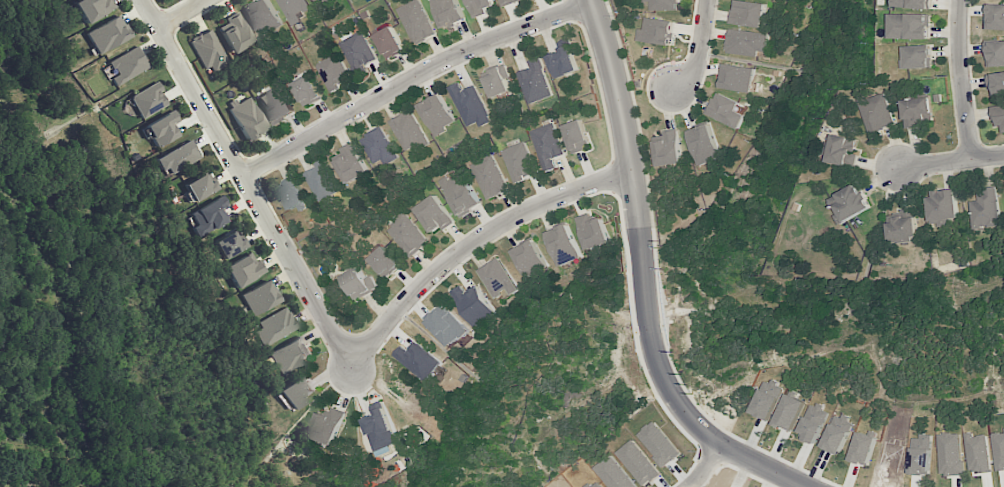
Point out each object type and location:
building: (320, 2)
building: (508, 2)
building: (912, 4)
building: (662, 5)
building: (480, 6)
building: (93, 8)
building: (294, 9)
building: (447, 12)
road: (180, 13)
building: (748, 14)
building: (263, 16)
building: (995, 17)
building: (416, 22)
building: (909, 26)
building: (657, 31)
building: (236, 33)
building: (107, 34)
building: (389, 42)
building: (746, 42)
road: (698, 48)
building: (208, 49)
building: (358, 53)
building: (995, 54)
building: (918, 57)
building: (563, 60)
building: (127, 65)
building: (334, 72)
building: (737, 77)
road: (411, 78)
road: (964, 80)
building: (496, 81)
building: (535, 82)
building: (997, 83)
building: (307, 90)
building: (148, 100)
building: (276, 104)
building: (470, 105)
building: (724, 110)
building: (916, 110)
building: (436, 114)
building: (877, 114)
building: (999, 116)
building: (248, 117)
building: (162, 128)
building: (408, 131)
building: (577, 135)
building: (704, 144)
building: (548, 145)
building: (379, 147)
building: (668, 148)
building: (841, 149)
building: (519, 161)
road: (951, 162)
building: (350, 164)
building: (489, 177)
building: (322, 181)
building: (199, 185)
building: (291, 193)
building: (460, 194)
building: (849, 203)
building: (943, 206)
building: (985, 209)
building: (434, 214)
building: (208, 216)
building: (902, 226)
road: (639, 230)
building: (593, 231)
building: (407, 235)
building: (228, 244)
building: (563, 245)
building: (530, 258)
building: (385, 262)
building: (242, 269)
building: (498, 279)
building: (359, 283)
building: (259, 297)
building: (474, 304)
road: (327, 324)
building: (274, 325)
building: (447, 326)
building: (289, 354)
building: (419, 360)
building: (297, 390)
building: (330, 426)
building: (382, 428)
road: (704, 465)
road: (765, 465)

